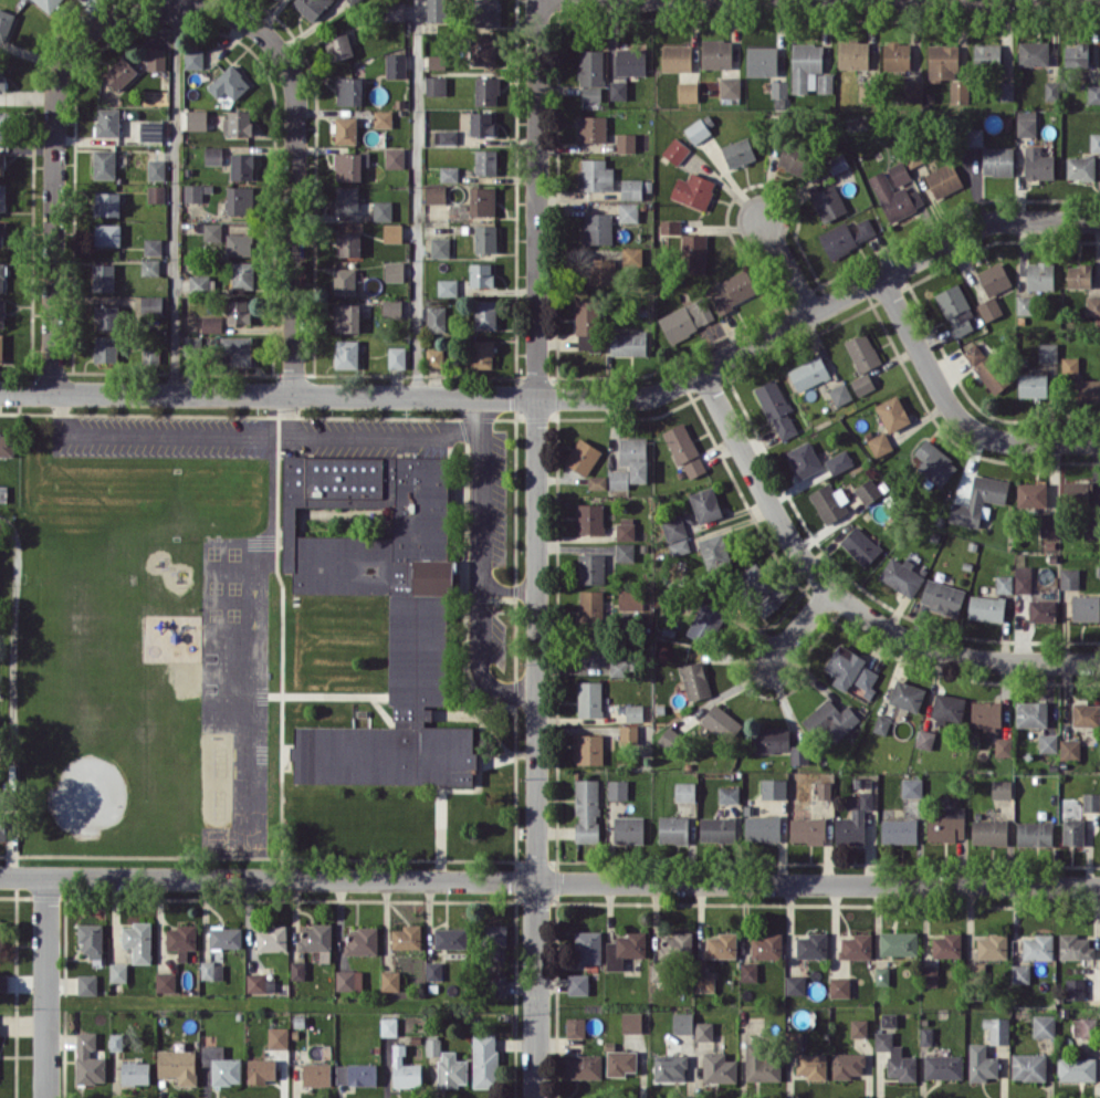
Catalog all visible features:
building: (49, 3)
building: (311, 7)
building: (438, 10)
building: (395, 11)
building: (486, 12)
building: (4, 23)
building: (339, 46)
building: (483, 50)
building: (716, 53)
building: (1034, 53)
building: (853, 54)
building: (986, 54)
building: (1076, 54)
building: (897, 55)
building: (193, 57)
building: (677, 57)
building: (156, 59)
building: (762, 60)
building: (437, 61)
building: (630, 61)
building: (943, 62)
building: (805, 64)
building: (396, 65)
building: (121, 72)
building: (590, 74)
building: (2, 77)
building: (229, 83)
building: (824, 83)
building: (436, 85)
building: (730, 86)
building: (618, 90)
building: (1051, 90)
building: (349, 91)
building: (486, 91)
building: (688, 91)
building: (913, 91)
building: (960, 91)
building: (1005, 91)
building: (779, 94)
building: (1093, 94)
building: (383, 118)
building: (197, 119)
building: (107, 122)
building: (238, 122)
building: (482, 123)
building: (1026, 123)
building: (2, 125)
building: (593, 128)
building: (345, 129)
building: (696, 129)
building: (150, 130)
building: (444, 136)
building: (974, 136)
building: (626, 142)
building: (1094, 142)
building: (675, 150)
building: (738, 151)
building: (212, 155)
building: (394, 157)
road: (53, 159)
building: (794, 159)
building: (997, 160)
building: (485, 161)
road: (293, 163)
building: (837, 163)
building: (2, 164)
building: (104, 164)
building: (1038, 164)
building: (350, 165)
building: (242, 166)
building: (1080, 168)
building: (156, 169)
building: (899, 172)
building: (449, 174)
building: (595, 175)
building: (943, 179)
building: (637, 188)
building: (693, 190)
building: (193, 192)
building: (156, 194)
building: (436, 194)
building: (895, 197)
building: (2, 198)
road: (418, 198)
road: (176, 199)
building: (240, 199)
building: (346, 200)
building: (482, 200)
building: (827, 201)
building: (108, 203)
building: (383, 210)
building: (628, 211)
building: (670, 226)
building: (598, 228)
building: (865, 229)
building: (212, 231)
building: (1, 232)
building: (392, 232)
building: (107, 233)
building: (485, 238)
building: (837, 240)
building: (239, 243)
building: (349, 243)
building: (153, 245)
building: (440, 247)
building: (693, 253)
building: (631, 255)
road: (786, 264)
building: (149, 266)
building: (394, 270)
building: (601, 271)
building: (482, 274)
building: (242, 275)
building: (1039, 275)
building: (1079, 275)
building: (1, 276)
building: (103, 276)
building: (994, 279)
building: (344, 281)
building: (201, 283)
building: (448, 286)
building: (734, 291)
building: (151, 304)
building: (1025, 304)
building: (1092, 305)
building: (392, 307)
building: (989, 307)
building: (955, 309)
building: (238, 311)
building: (2, 313)
building: (485, 314)
building: (107, 316)
building: (347, 317)
building: (436, 318)
building: (685, 320)
building: (211, 324)
building: (587, 324)
building: (628, 343)
building: (1, 347)
building: (105, 348)
building: (237, 351)
building: (862, 352)
building: (1048, 352)
building: (150, 353)
building: (346, 354)
building: (482, 354)
building: (397, 357)
building: (434, 357)
building: (1069, 365)
building: (985, 368)
building: (808, 373)
building: (862, 384)
building: (1033, 385)
building: (1087, 389)
building: (840, 394)
road: (570, 396)
building: (776, 408)
road: (953, 411)
building: (892, 412)
road: (291, 415)
parking lot: (158, 435)
road: (250, 435)
parking lot: (365, 436)
building: (7, 443)
building: (879, 443)
building: (684, 449)
building: (583, 456)
building: (804, 459)
building: (839, 461)
building: (934, 462)
building: (618, 479)
building: (596, 481)
building: (868, 491)
building: (1076, 492)
building: (3, 493)
building: (1031, 494)
parking lot: (486, 498)
building: (978, 500)
building: (829, 502)
park: (102, 504)
building: (705, 504)
building: (589, 517)
building: (1048, 524)
building: (626, 527)
building: (673, 527)
building: (860, 545)
building: (679, 546)
road: (536, 548)
building: (625, 551)
building: (714, 552)
road: (480, 565)
building: (590, 568)
building: (901, 575)
building: (1023, 578)
building: (1069, 578)
building: (1004, 584)
building: (757, 588)
road: (509, 589)
building: (942, 597)
building: (630, 598)
road: (841, 599)
building: (590, 606)
building: (986, 607)
building: (1086, 607)
building: (1043, 610)
building: (705, 623)
road: (799, 625)
parking lot: (485, 628)
road: (13, 635)
road: (281, 635)
building: (418, 645)
building: (844, 666)
building: (619, 667)
building: (694, 680)
road: (463, 687)
road: (335, 692)
building: (907, 694)
building: (589, 699)
road: (494, 700)
building: (949, 707)
road: (381, 710)
building: (633, 712)
building: (1031, 713)
building: (986, 714)
building: (1086, 714)
building: (830, 719)
building: (722, 722)
building: (881, 723)
building: (628, 734)
road: (494, 735)
building: (669, 738)
building: (925, 739)
building: (1047, 742)
building: (777, 743)
road: (478, 746)
building: (1003, 746)
building: (1069, 747)
building: (589, 749)
road: (507, 753)
building: (773, 787)
building: (911, 787)
building: (617, 788)
building: (1002, 788)
building: (824, 789)
building: (684, 791)
park: (88, 794)
building: (729, 794)
building: (1, 799)
building: (1091, 801)
building: (586, 809)
building: (853, 819)
building: (2, 825)
building: (946, 825)
building: (762, 827)
building: (672, 828)
building: (717, 828)
building: (628, 829)
building: (807, 829)
road: (439, 830)
building: (899, 830)
building: (1072, 830)
building: (988, 832)
building: (1034, 833)
road: (611, 845)
road: (549, 879)
building: (1, 930)
building: (224, 937)
building: (407, 937)
building: (450, 938)
building: (91, 939)
building: (181, 939)
building: (271, 939)
building: (138, 940)
building: (317, 940)
building: (362, 941)
building: (494, 941)
building: (677, 942)
building: (898, 942)
building: (766, 944)
building: (946, 944)
building: (588, 945)
building: (721, 945)
building: (811, 945)
building: (856, 945)
building: (992, 945)
building: (1038, 947)
building: (1075, 947)
building: (625, 949)
building: (211, 970)
building: (297, 970)
building: (433, 970)
building: (656, 971)
building: (748, 971)
building: (118, 972)
building: (1020, 973)
building: (881, 975)
building: (929, 975)
building: (348, 980)
building: (390, 980)
building: (165, 981)
building: (704, 981)
building: (3, 982)
building: (255, 982)
building: (577, 983)
building: (86, 984)
building: (496, 984)
building: (794, 984)
road: (45, 986)
building: (839, 986)
building: (1073, 987)
building: (888, 1019)
building: (631, 1022)
building: (682, 1022)
building: (1044, 1025)
building: (388, 1026)
building: (575, 1026)
building: (858, 1027)
building: (1085, 1027)
building: (997, 1028)
building: (703, 1031)
building: (925, 1035)
building: (277, 1037)
building: (793, 1039)
building: (432, 1046)
building: (895, 1057)
building: (88, 1059)
building: (484, 1059)
building: (620, 1062)
building: (761, 1063)
building: (981, 1063)
building: (178, 1065)
building: (221, 1065)
building: (811, 1065)
building: (847, 1065)
building: (582, 1066)
building: (942, 1066)
building: (1028, 1066)
building: (719, 1067)
building: (1077, 1067)
building: (669, 1068)
building: (261, 1069)
building: (405, 1069)
building: (451, 1069)
building: (135, 1073)
building: (316, 1074)
building: (356, 1074)

